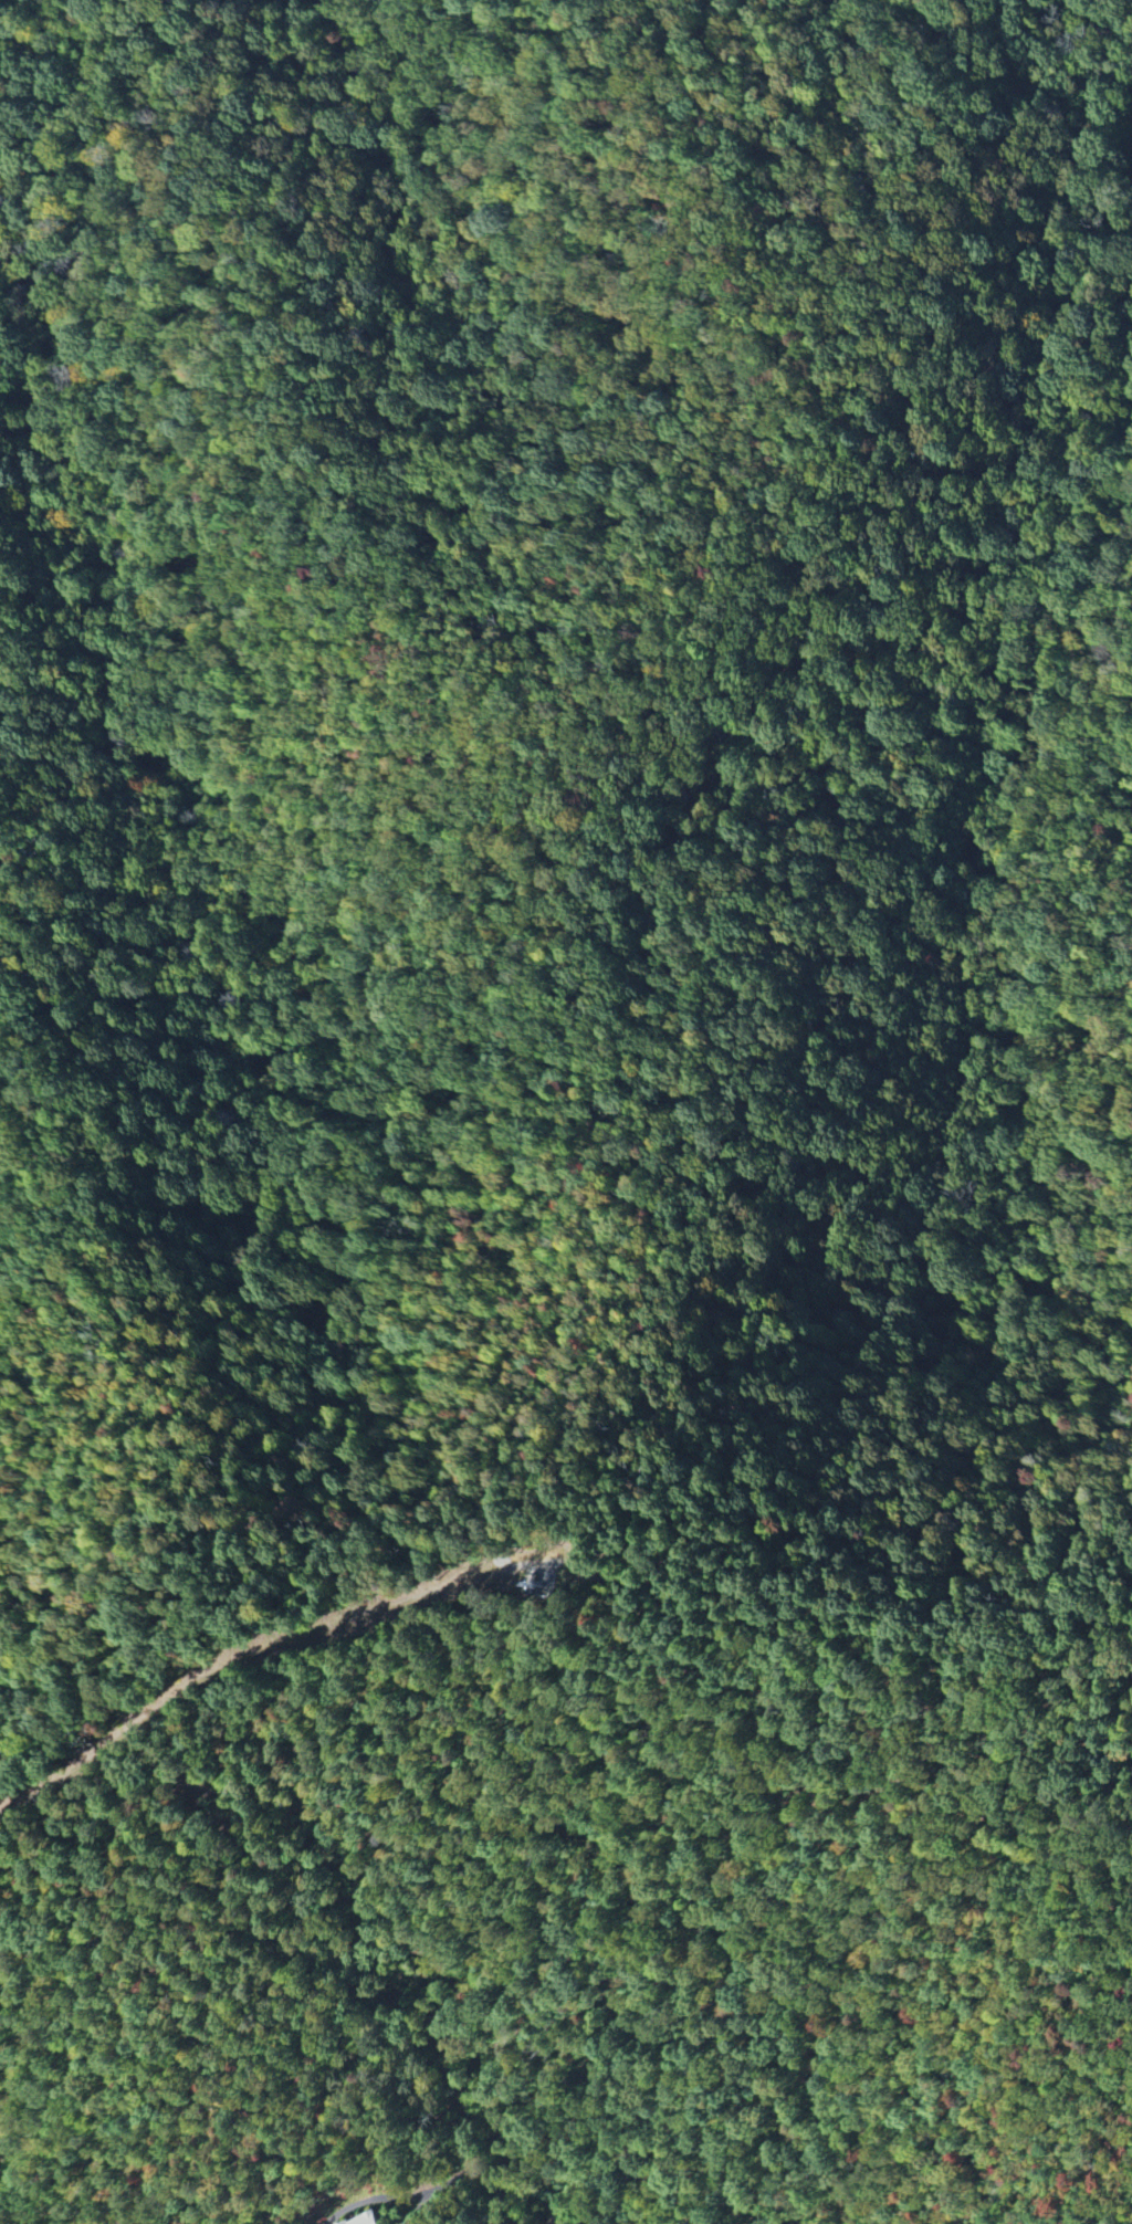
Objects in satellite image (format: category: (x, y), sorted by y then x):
road: (437, 2188)
road: (420, 2210)
building: (367, 2218)

